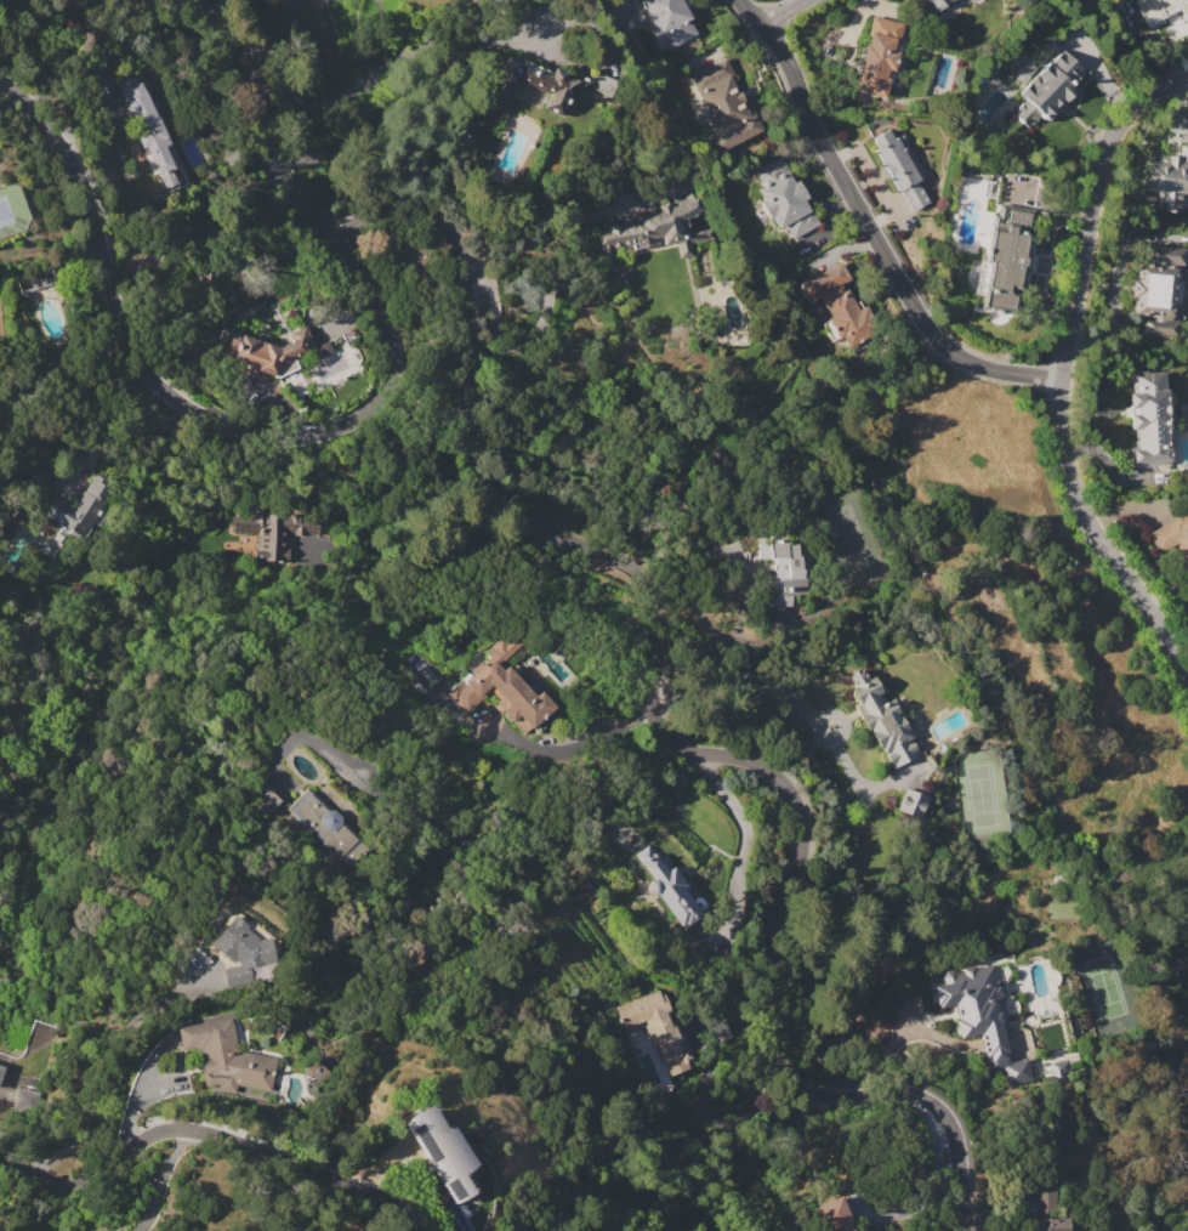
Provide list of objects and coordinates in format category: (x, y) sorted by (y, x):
building: (938, 5)
road: (781, 12)
building: (1165, 16)
building: (670, 18)
building: (879, 57)
road: (356, 84)
building: (536, 84)
building: (603, 84)
building: (1048, 89)
building: (723, 104)
road: (266, 123)
building: (149, 127)
building: (900, 168)
building: (1166, 177)
building: (784, 198)
road: (876, 225)
building: (654, 231)
building: (1006, 256)
building: (1160, 290)
building: (839, 304)
road: (518, 345)
building: (266, 350)
road: (1061, 376)
road: (189, 405)
building: (1148, 419)
road: (115, 431)
building: (83, 509)
building: (273, 529)
building: (1172, 537)
building: (783, 571)
building: (987, 597)
building: (505, 686)
building: (883, 719)
road: (661, 733)
road: (573, 745)
building: (265, 796)
building: (911, 804)
building: (326, 827)
road: (743, 836)
building: (667, 887)
building: (243, 949)
building: (979, 1016)
building: (656, 1027)
building: (226, 1056)
road: (106, 1067)
building: (1058, 1070)
building: (1, 1072)
building: (25, 1097)
road: (209, 1134)
building: (443, 1152)
road: (161, 1180)
building: (1042, 1208)
building: (832, 1214)

